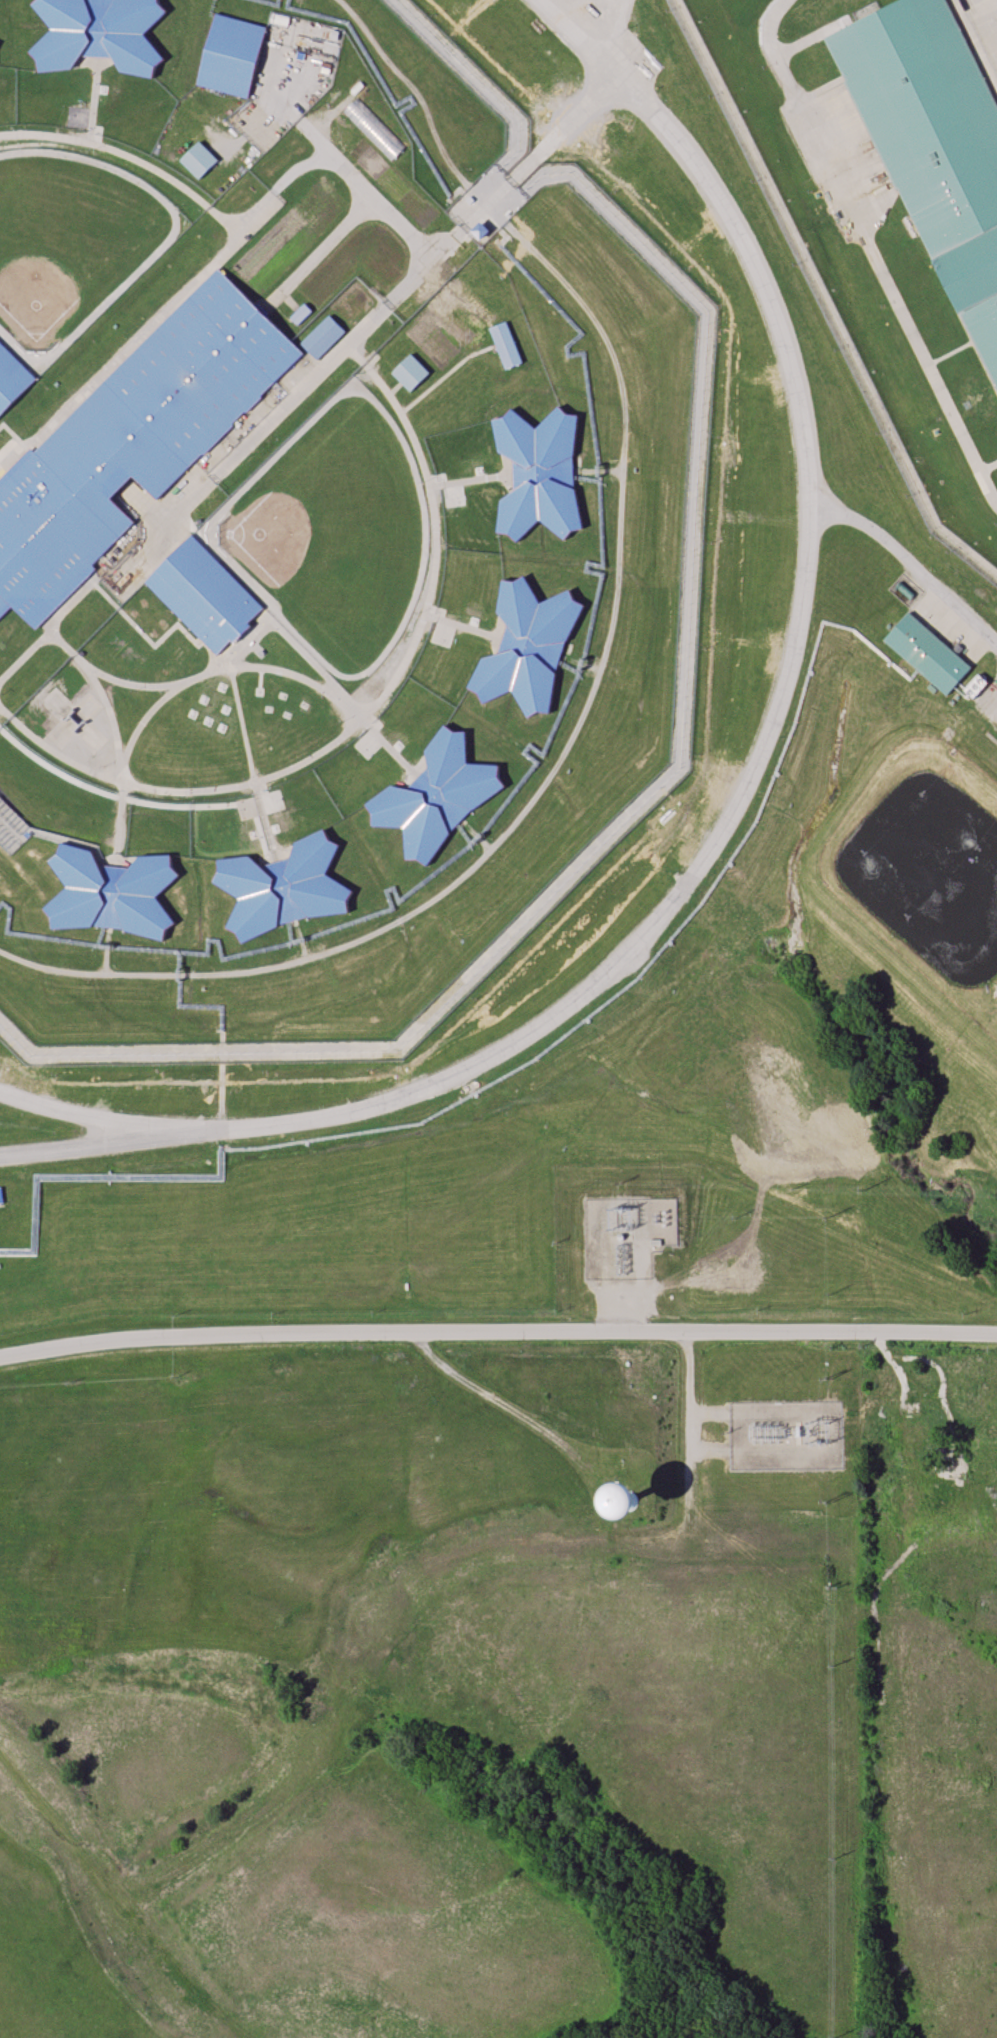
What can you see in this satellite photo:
road: (613, 25)
building: (100, 33)
road: (972, 48)
building: (231, 54)
road: (413, 88)
road: (93, 100)
building: (373, 127)
building: (932, 142)
road: (129, 156)
building: (198, 159)
road: (351, 176)
crop: (393, 186)
road: (484, 205)
building: (478, 230)
crop: (287, 234)
park: (67, 238)
road: (317, 250)
road: (869, 251)
crop: (354, 261)
crop: (349, 303)
road: (170, 305)
building: (299, 313)
road: (371, 316)
building: (321, 336)
building: (502, 344)
building: (408, 371)
road: (442, 373)
building: (11, 377)
road: (392, 386)
building: (129, 443)
road: (987, 465)
building: (537, 473)
road: (469, 479)
park: (334, 535)
road: (910, 564)
building: (205, 596)
road: (50, 621)
road: (463, 626)
road: (144, 636)
building: (528, 645)
road: (296, 646)
building: (929, 653)
road: (258, 666)
road: (366, 713)
road: (113, 736)
road: (249, 765)
road: (547, 782)
road: (749, 789)
building: (437, 797)
building: (283, 887)
building: (109, 892)
road: (74, 1116)
power substation: (626, 1234)
building: (672, 1236)
road: (497, 1333)
road: (883, 1345)
road: (688, 1373)
road: (916, 1393)
road: (499, 1403)
building: (916, 1432)
road: (690, 1451)
building: (924, 1470)
building: (629, 1498)
water tower: (631, 1501)

